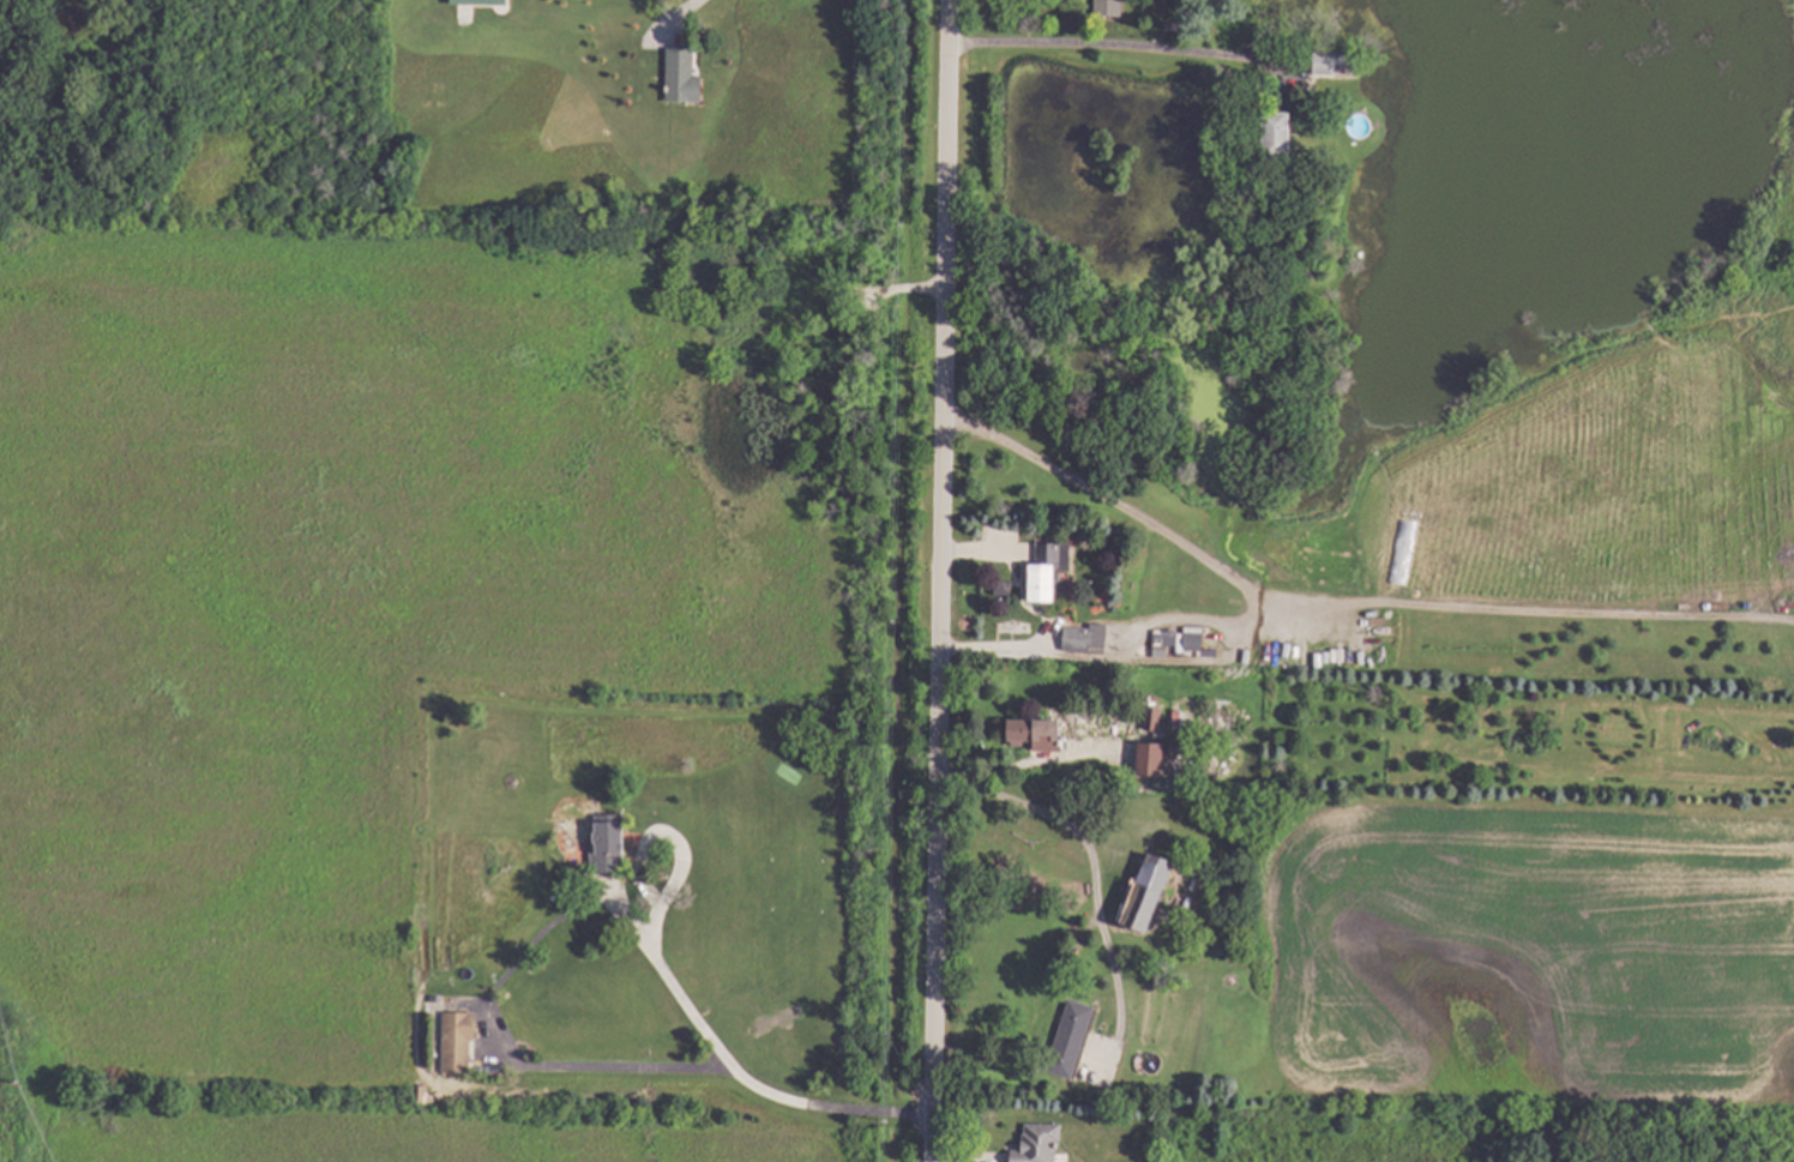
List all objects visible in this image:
building: (480, 1)
building: (1108, 8)
road: (667, 10)
road: (678, 17)
building: (1169, 25)
road: (1109, 48)
building: (1334, 64)
building: (682, 76)
building: (1277, 127)
building: (848, 252)
crop: (1607, 469)
building: (1124, 531)
building: (1048, 568)
road: (944, 580)
building: (1003, 586)
road: (1345, 602)
building: (1115, 612)
crop: (326, 636)
building: (1086, 638)
building: (1158, 638)
road: (1115, 650)
building: (1625, 661)
building: (1155, 669)
building: (1152, 717)
building: (1036, 733)
building: (1160, 755)
road: (1033, 761)
building: (608, 844)
road: (1092, 878)
building: (1040, 890)
building: (1146, 893)
crop: (1527, 955)
building: (1071, 1038)
building: (458, 1042)
road: (602, 1067)
road: (753, 1086)
building: (1039, 1143)

